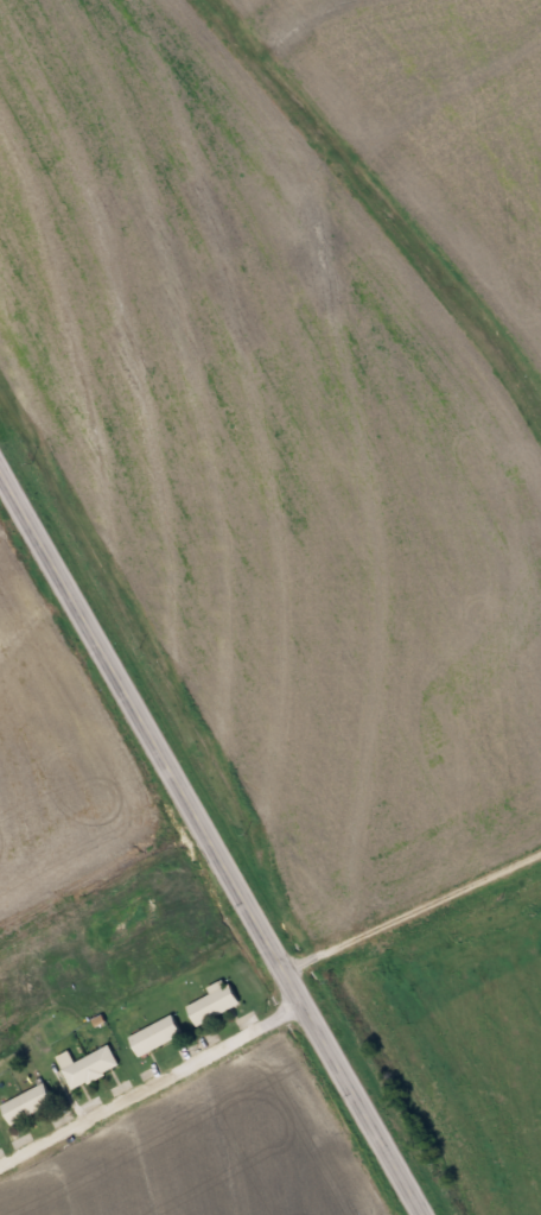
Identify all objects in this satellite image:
crop: (298, 397)
crop: (58, 743)
road: (211, 843)
road: (412, 911)
building: (215, 1004)
building: (157, 1034)
building: (90, 1067)
road: (152, 1086)
building: (28, 1103)

